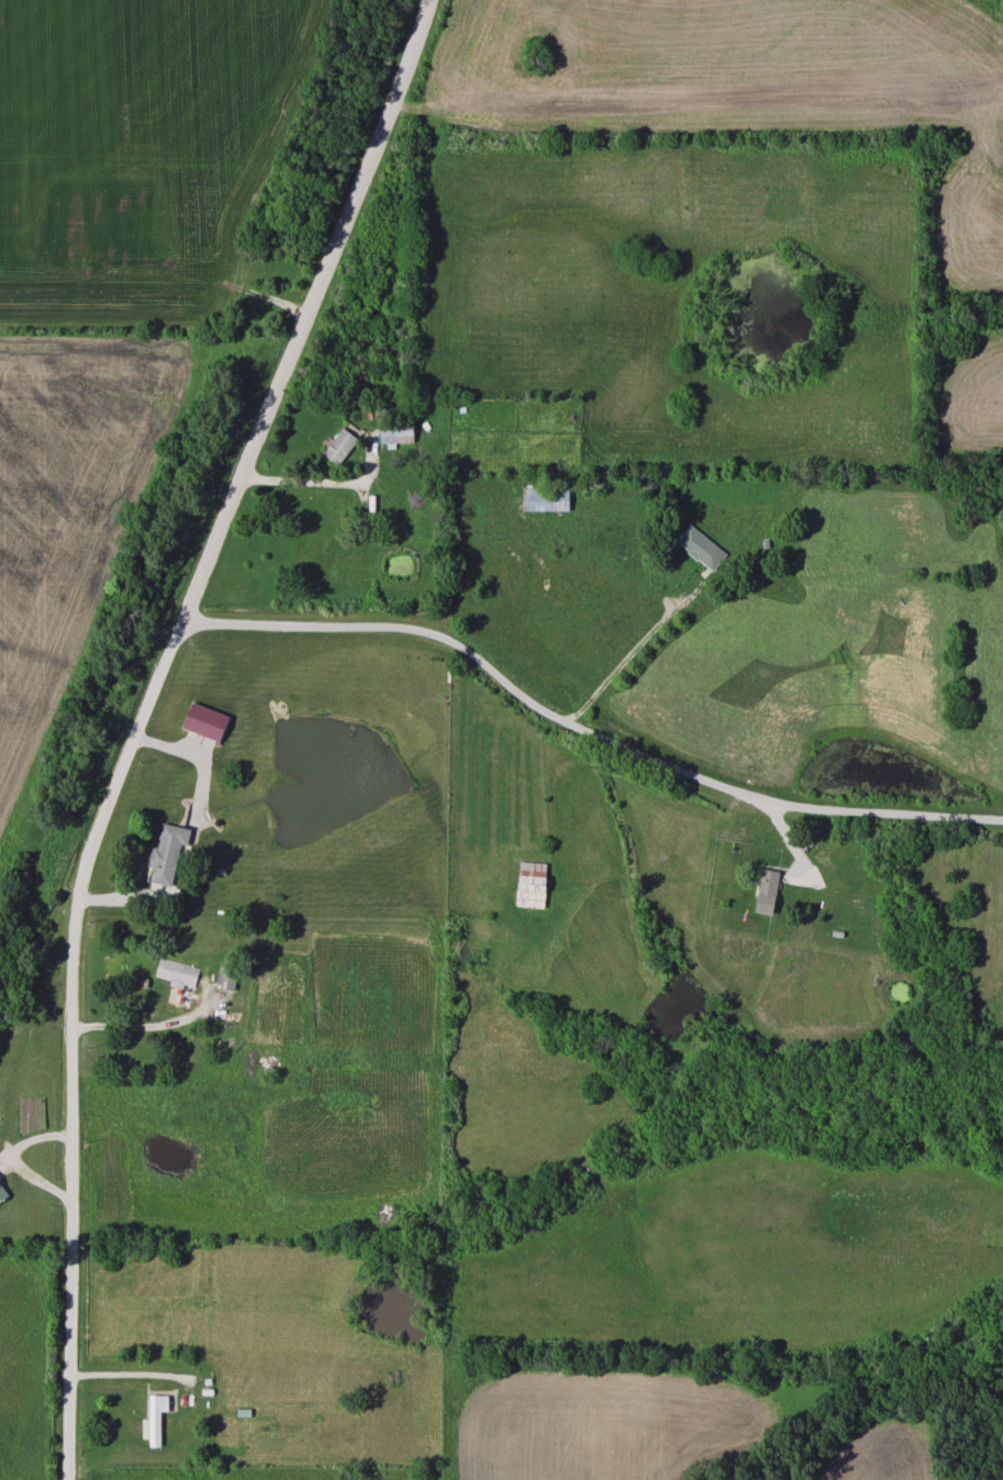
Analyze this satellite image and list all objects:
building: (396, 432)
building: (506, 446)
road: (307, 482)
building: (545, 501)
building: (700, 550)
road: (620, 667)
road: (140, 722)
building: (247, 722)
road: (582, 732)
building: (167, 854)
building: (530, 885)
building: (766, 893)
building: (177, 974)
building: (226, 978)
building: (262, 1012)
road: (138, 1026)
building: (2, 1196)
road: (117, 1375)
building: (157, 1419)

